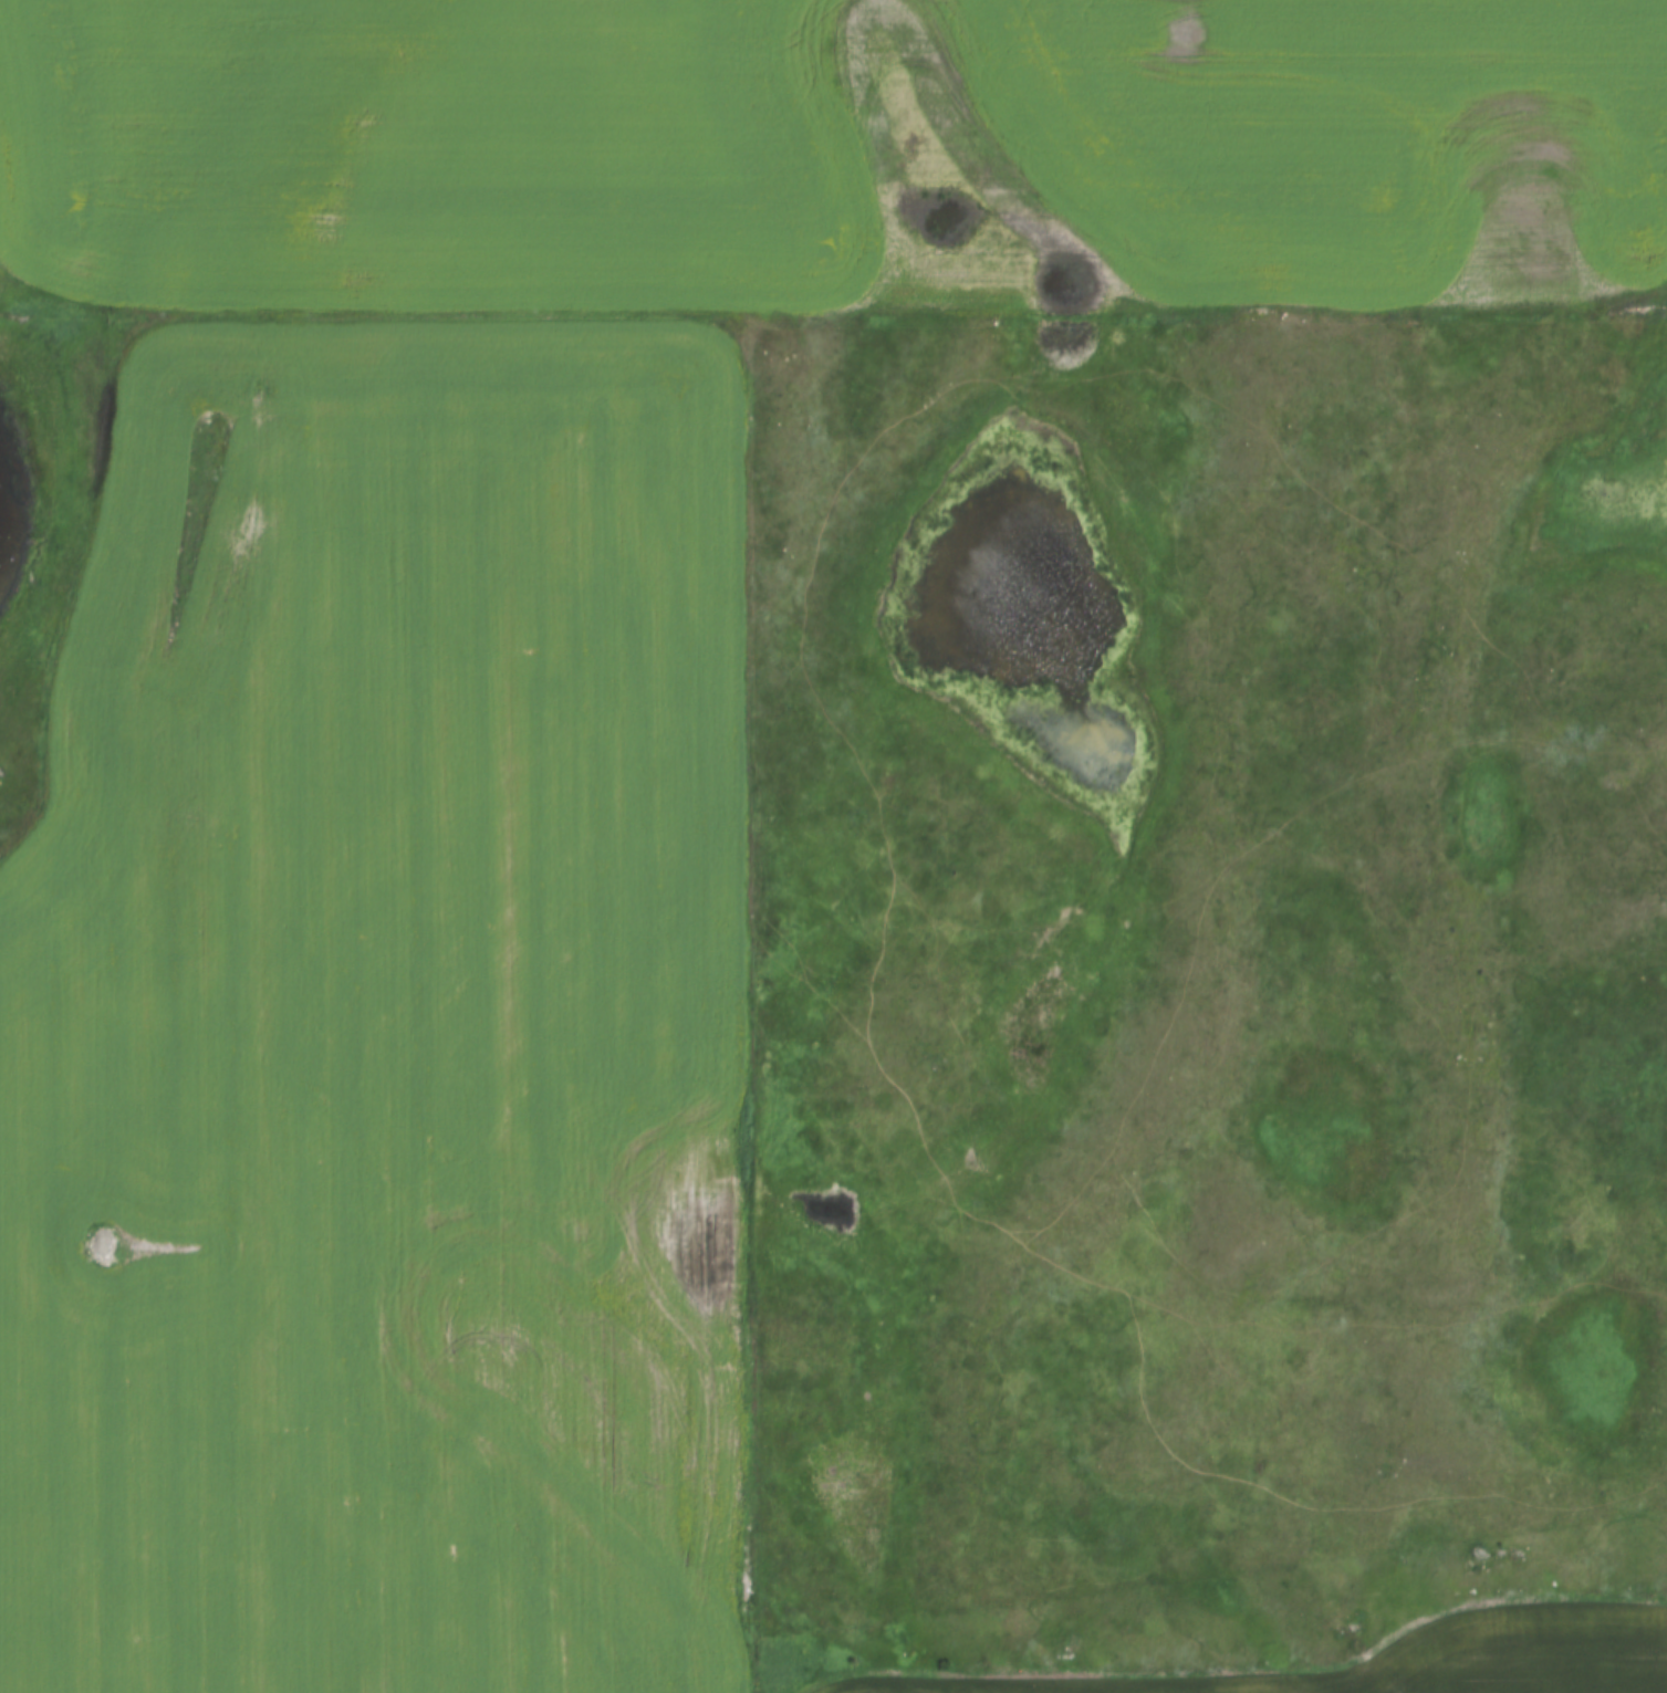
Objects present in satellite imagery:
road: (1509, 735)

